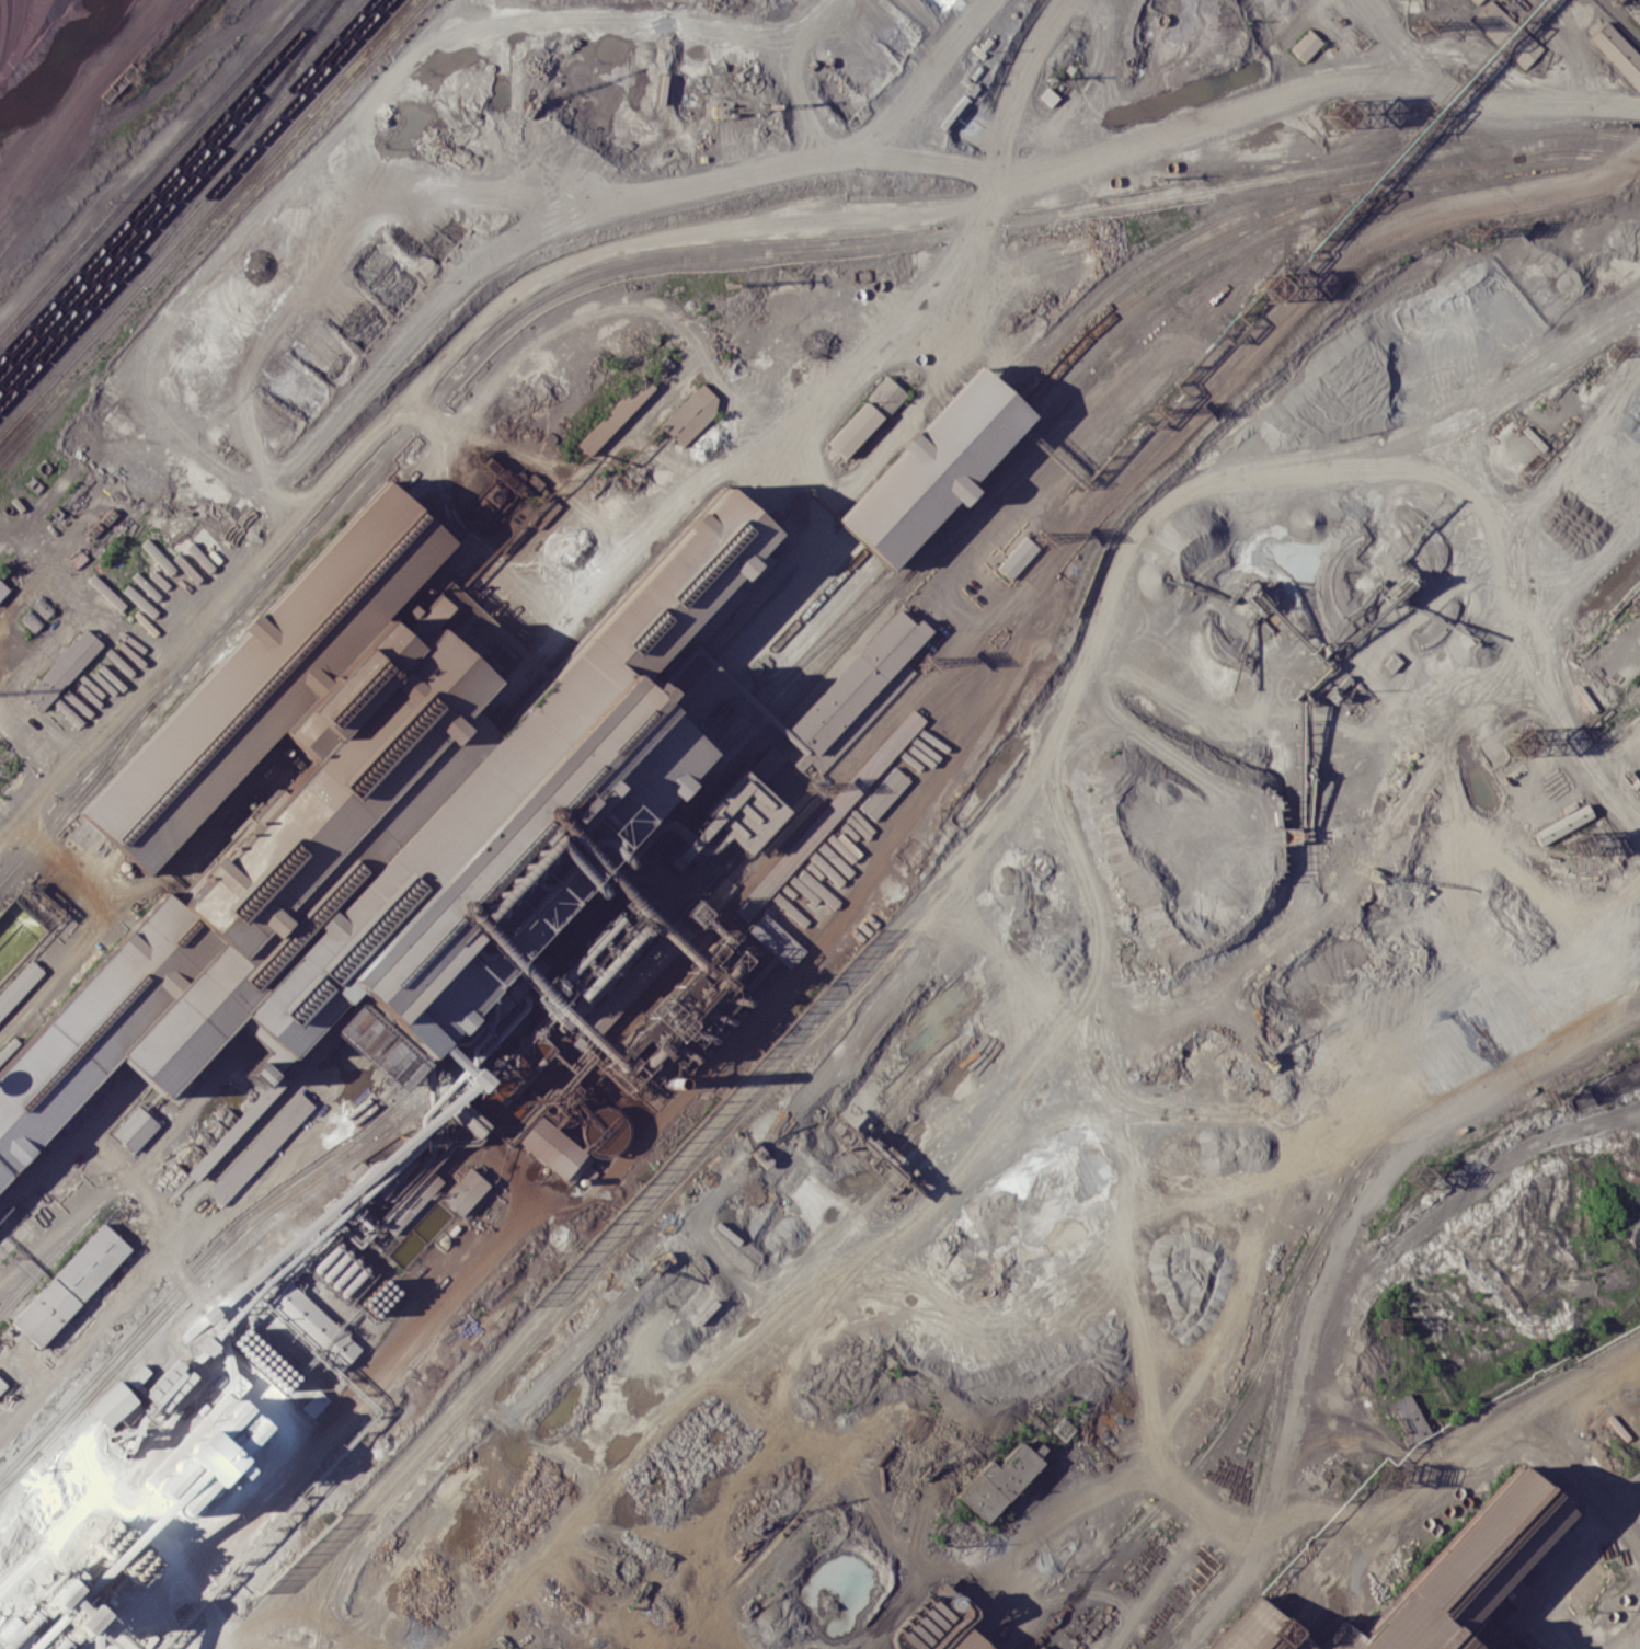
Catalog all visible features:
building: (1475, 1)
building: (1505, 33)
railway: (372, 35)
building: (1306, 45)
building: (1617, 51)
railway: (283, 80)
building: (1047, 95)
road: (1480, 99)
railway: (1415, 153)
railway: (156, 169)
railway: (163, 178)
railway: (170, 186)
railway: (1308, 193)
railway: (185, 202)
railway: (193, 209)
railway: (174, 221)
railway: (989, 226)
railway: (147, 228)
railway: (210, 228)
railway: (170, 254)
railway: (1182, 255)
railway: (1160, 280)
road: (1270, 325)
railway: (1018, 381)
building: (886, 393)
building: (690, 413)
building: (615, 415)
building: (853, 428)
building: (932, 468)
railway: (934, 470)
railway: (943, 478)
railway: (951, 484)
railway: (353, 485)
road: (1373, 528)
building: (389, 546)
building: (158, 557)
building: (1016, 558)
building: (2, 589)
building: (440, 604)
railway: (808, 605)
railway: (816, 614)
building: (31, 620)
railway: (824, 620)
building: (62, 668)
building: (858, 678)
road: (1427, 741)
railway: (727, 770)
road: (1446, 780)
building: (883, 793)
railway: (80, 795)
building: (743, 810)
building: (830, 815)
building: (707, 823)
building: (1564, 823)
road: (1603, 898)
building: (775, 939)
building: (19, 985)
railway: (465, 1034)
building: (370, 1043)
building: (260, 1073)
building: (32, 1075)
building: (260, 1102)
road: (1441, 1126)
building: (135, 1129)
building: (260, 1148)
building: (552, 1149)
building: (207, 1158)
railway: (128, 1173)
road: (1475, 1180)
building: (467, 1192)
railway: (79, 1212)
railway: (627, 1240)
railway: (1293, 1284)
building: (71, 1285)
railway: (767, 1316)
building: (316, 1326)
road: (96, 1333)
building: (2, 1385)
building: (111, 1404)
building: (1409, 1417)
railway: (1264, 1457)
building: (208, 1458)
railway: (20, 1469)
road: (1434, 1475)
road: (1273, 1477)
building: (997, 1481)
railway: (788, 1527)
building: (1483, 1553)
railway: (1090, 1579)
building: (56, 1593)
building: (1258, 1630)
building: (1404, 1630)
railway: (1162, 1635)
building: (966, 1640)
building: (1040, 1647)
building: (1506, 1648)

